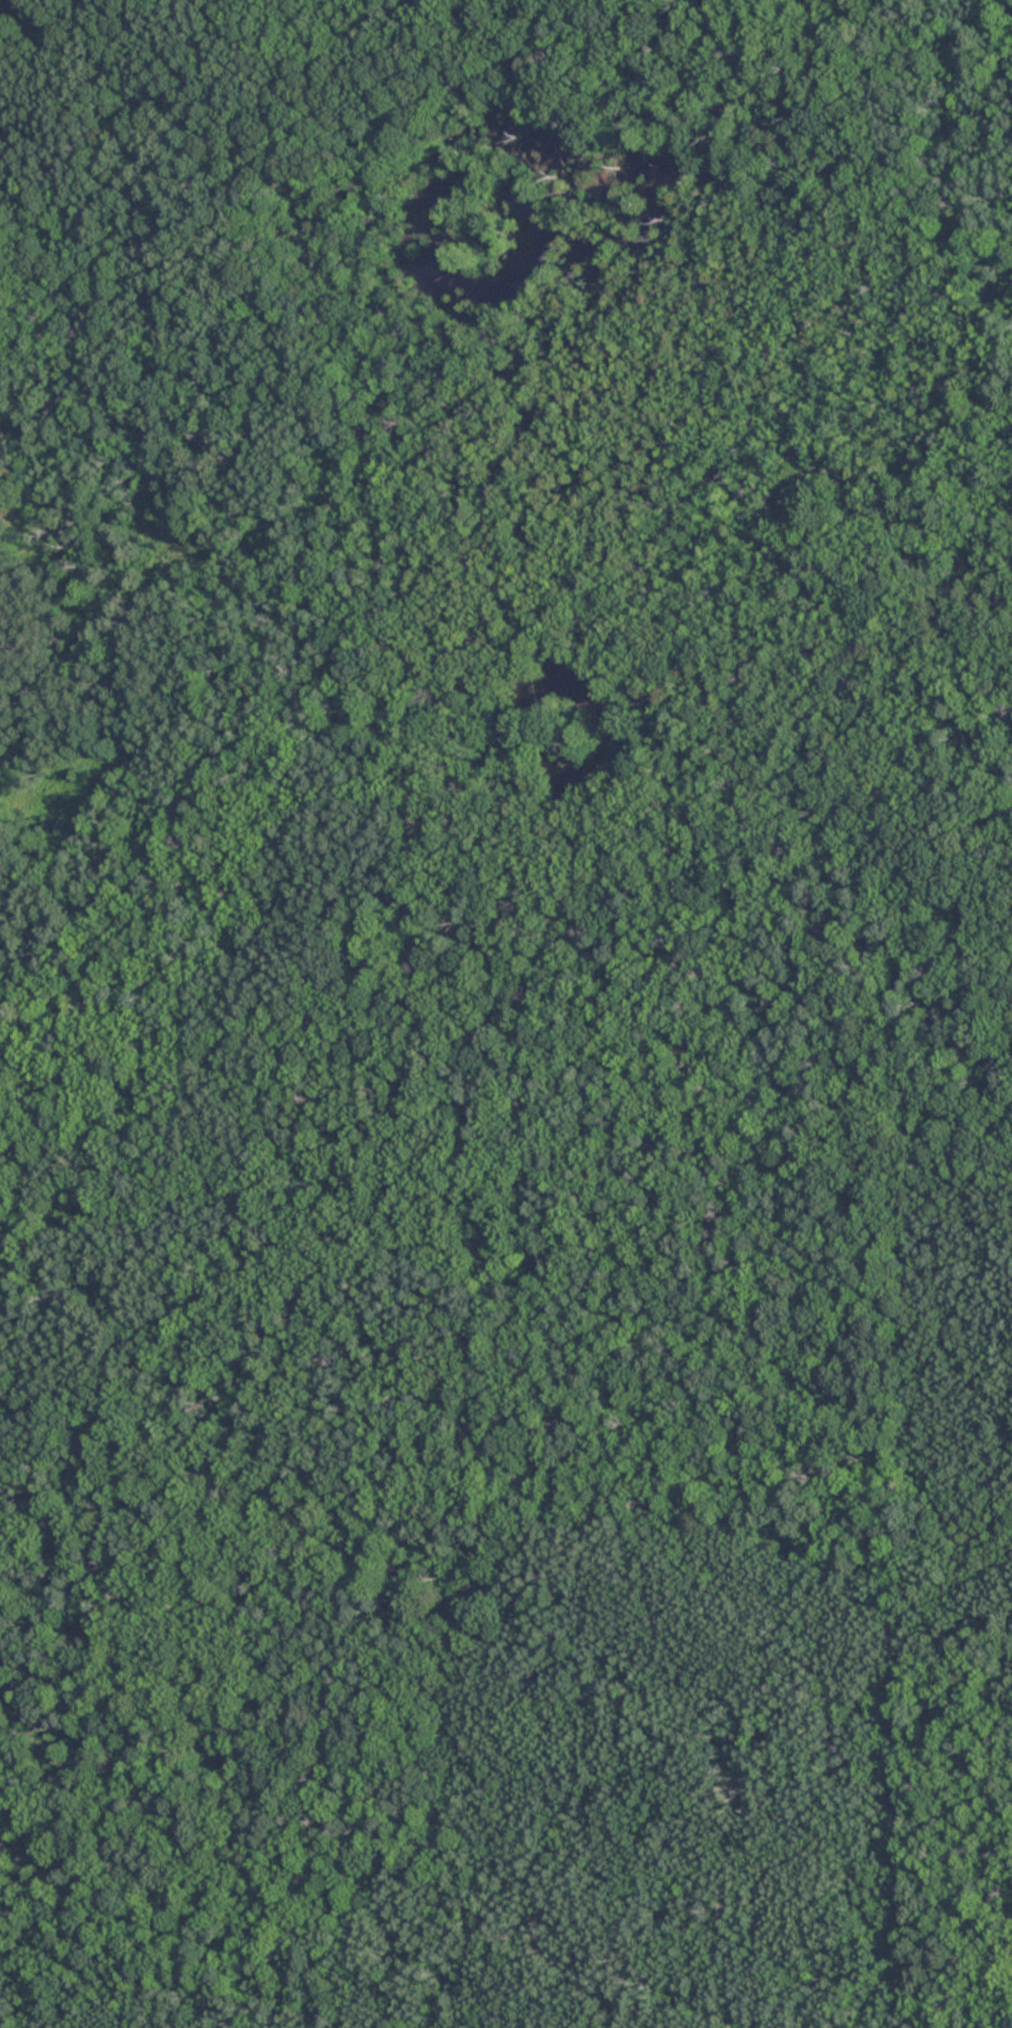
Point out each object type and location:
park: (506, 1014)

